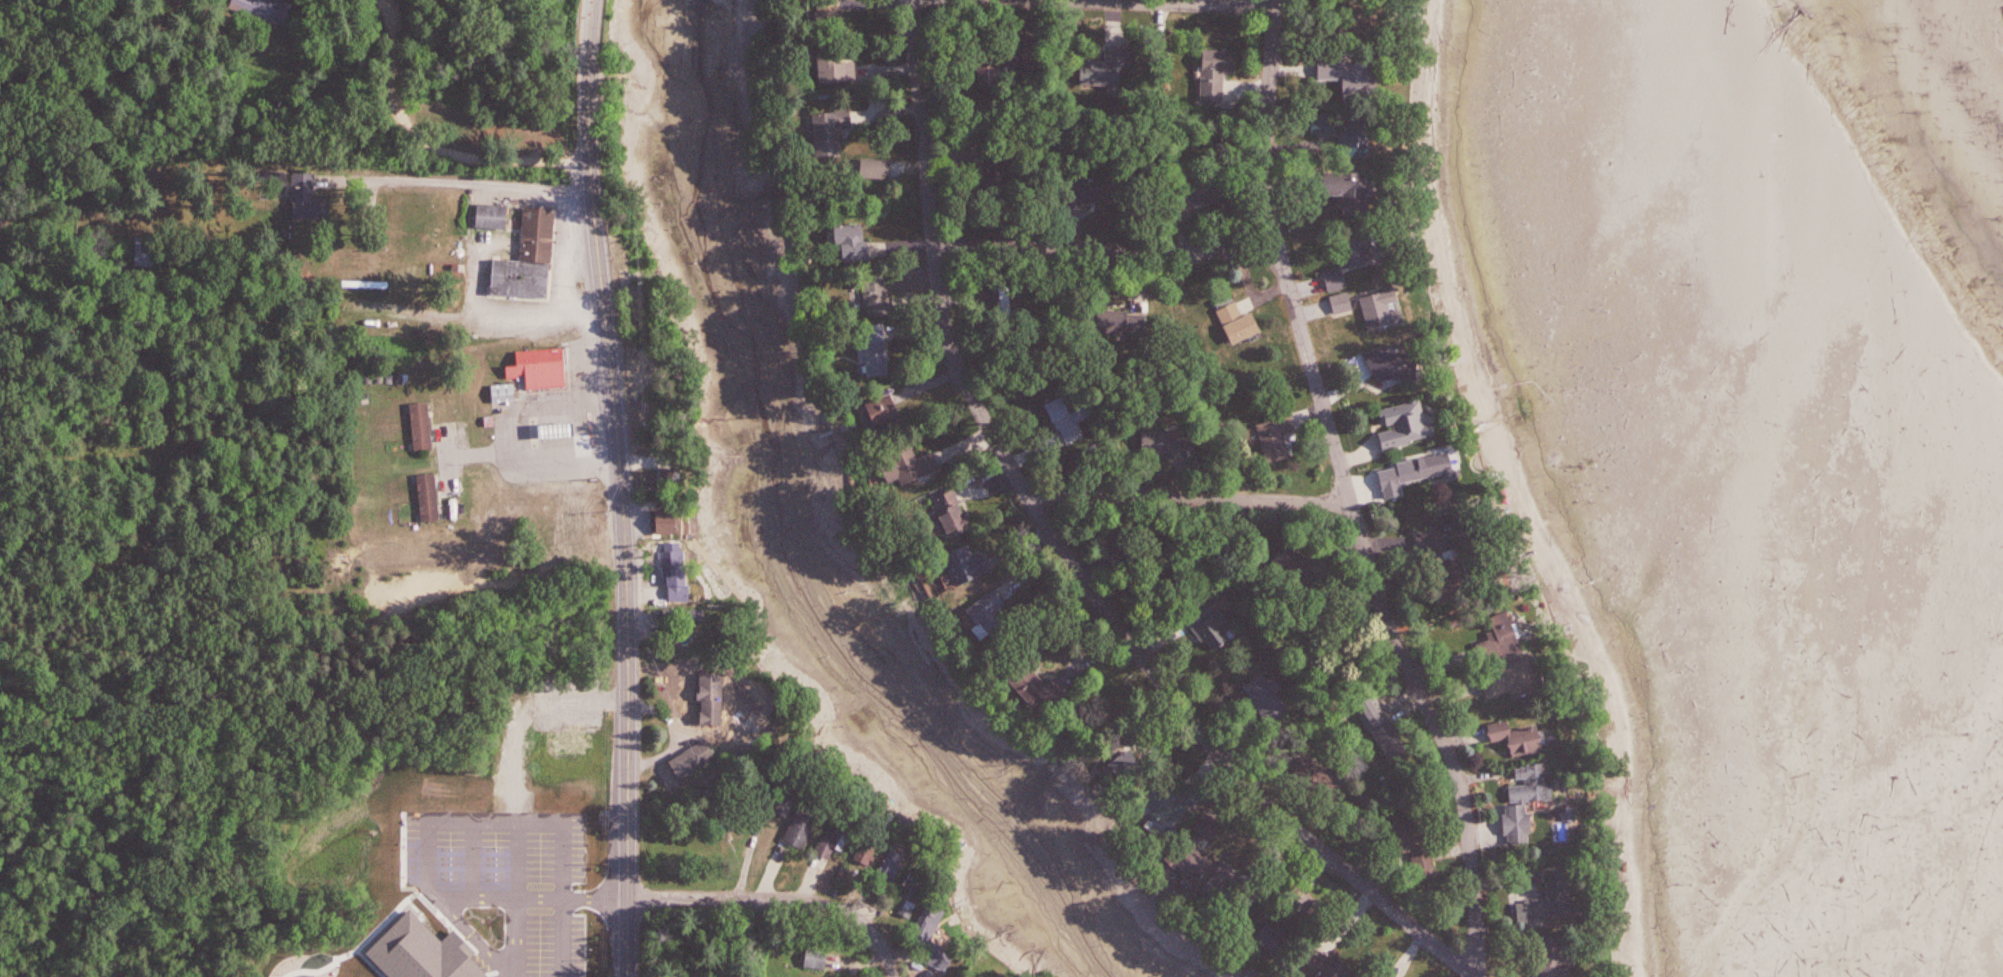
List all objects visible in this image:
road: (1197, 3)
building: (830, 5)
building: (268, 8)
building: (1365, 13)
building: (1011, 59)
building: (837, 67)
building: (1215, 69)
building: (1103, 72)
building: (1350, 77)
building: (1322, 121)
building: (832, 131)
building: (1355, 135)
road: (432, 139)
road: (462, 181)
building: (997, 181)
building: (1346, 187)
building: (1097, 189)
building: (1200, 189)
building: (310, 199)
building: (496, 217)
building: (1356, 248)
road: (564, 250)
building: (864, 251)
building: (147, 252)
road: (1104, 252)
building: (531, 259)
building: (1334, 276)
building: (880, 294)
building: (1340, 300)
building: (1380, 307)
building: (1234, 317)
road: (479, 318)
building: (876, 350)
building: (1391, 361)
building: (544, 365)
building: (506, 393)
building: (887, 411)
building: (1070, 421)
road: (584, 422)
building: (1402, 422)
building: (423, 426)
building: (563, 430)
building: (1275, 433)
building: (1162, 444)
road: (502, 453)
building: (910, 465)
building: (1439, 468)
road: (449, 471)
building: (1400, 473)
building: (676, 479)
road: (622, 487)
building: (430, 498)
road: (1193, 505)
road: (1352, 506)
building: (955, 513)
building: (672, 523)
building: (1447, 532)
road: (1060, 540)
building: (1293, 561)
building: (969, 566)
building: (680, 578)
building: (990, 617)
building: (1215, 629)
building: (1509, 640)
building: (1509, 677)
building: (1270, 697)
building: (750, 719)
building: (1380, 726)
building: (1515, 735)
building: (574, 743)
building: (697, 759)
building: (1312, 769)
building: (1195, 797)
building: (1524, 799)
building: (789, 805)
building: (1171, 809)
building: (809, 824)
building: (1207, 826)
building: (839, 838)
building: (1415, 847)
building: (871, 852)
building: (899, 861)
building: (1191, 862)
building: (914, 897)
building: (1232, 897)
building: (1547, 898)
road: (780, 902)
building: (937, 936)
building: (1278, 936)
building: (820, 958)
building: (1321, 963)
building: (1563, 966)
building: (1370, 974)
road: (1474, 974)

